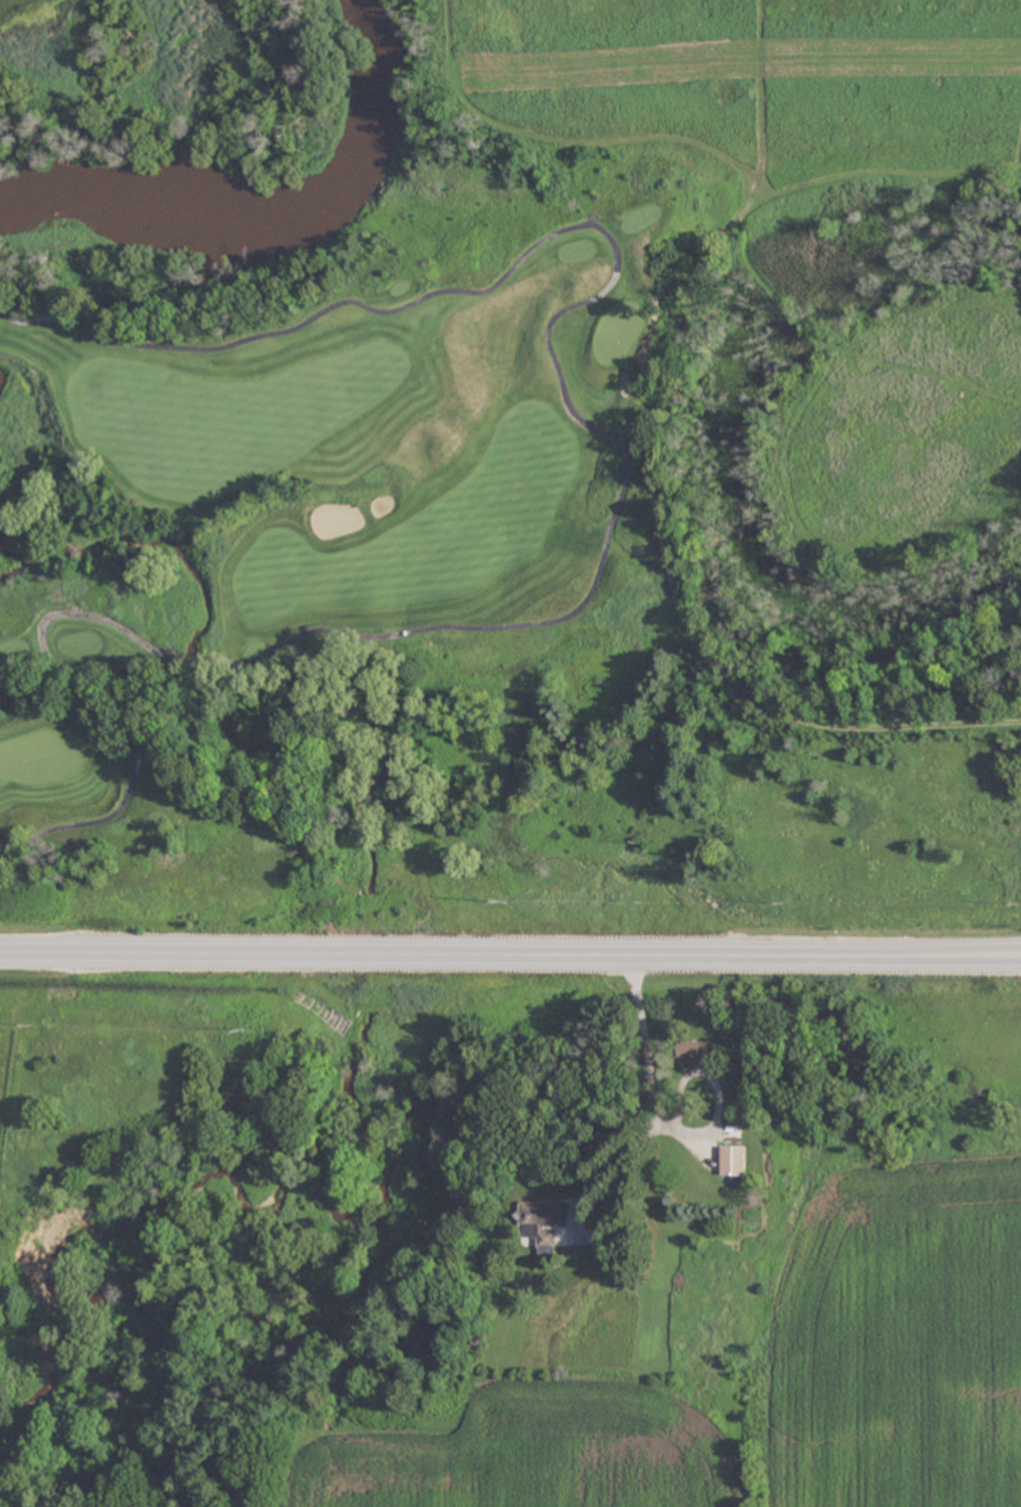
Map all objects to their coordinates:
river: (270, 207)
park: (510, 471)
road: (101, 698)
road: (968, 951)
road: (458, 955)
road: (968, 959)
crop: (11, 1034)
building: (700, 1052)
building: (735, 1151)
building: (544, 1222)
crop: (763, 1270)

